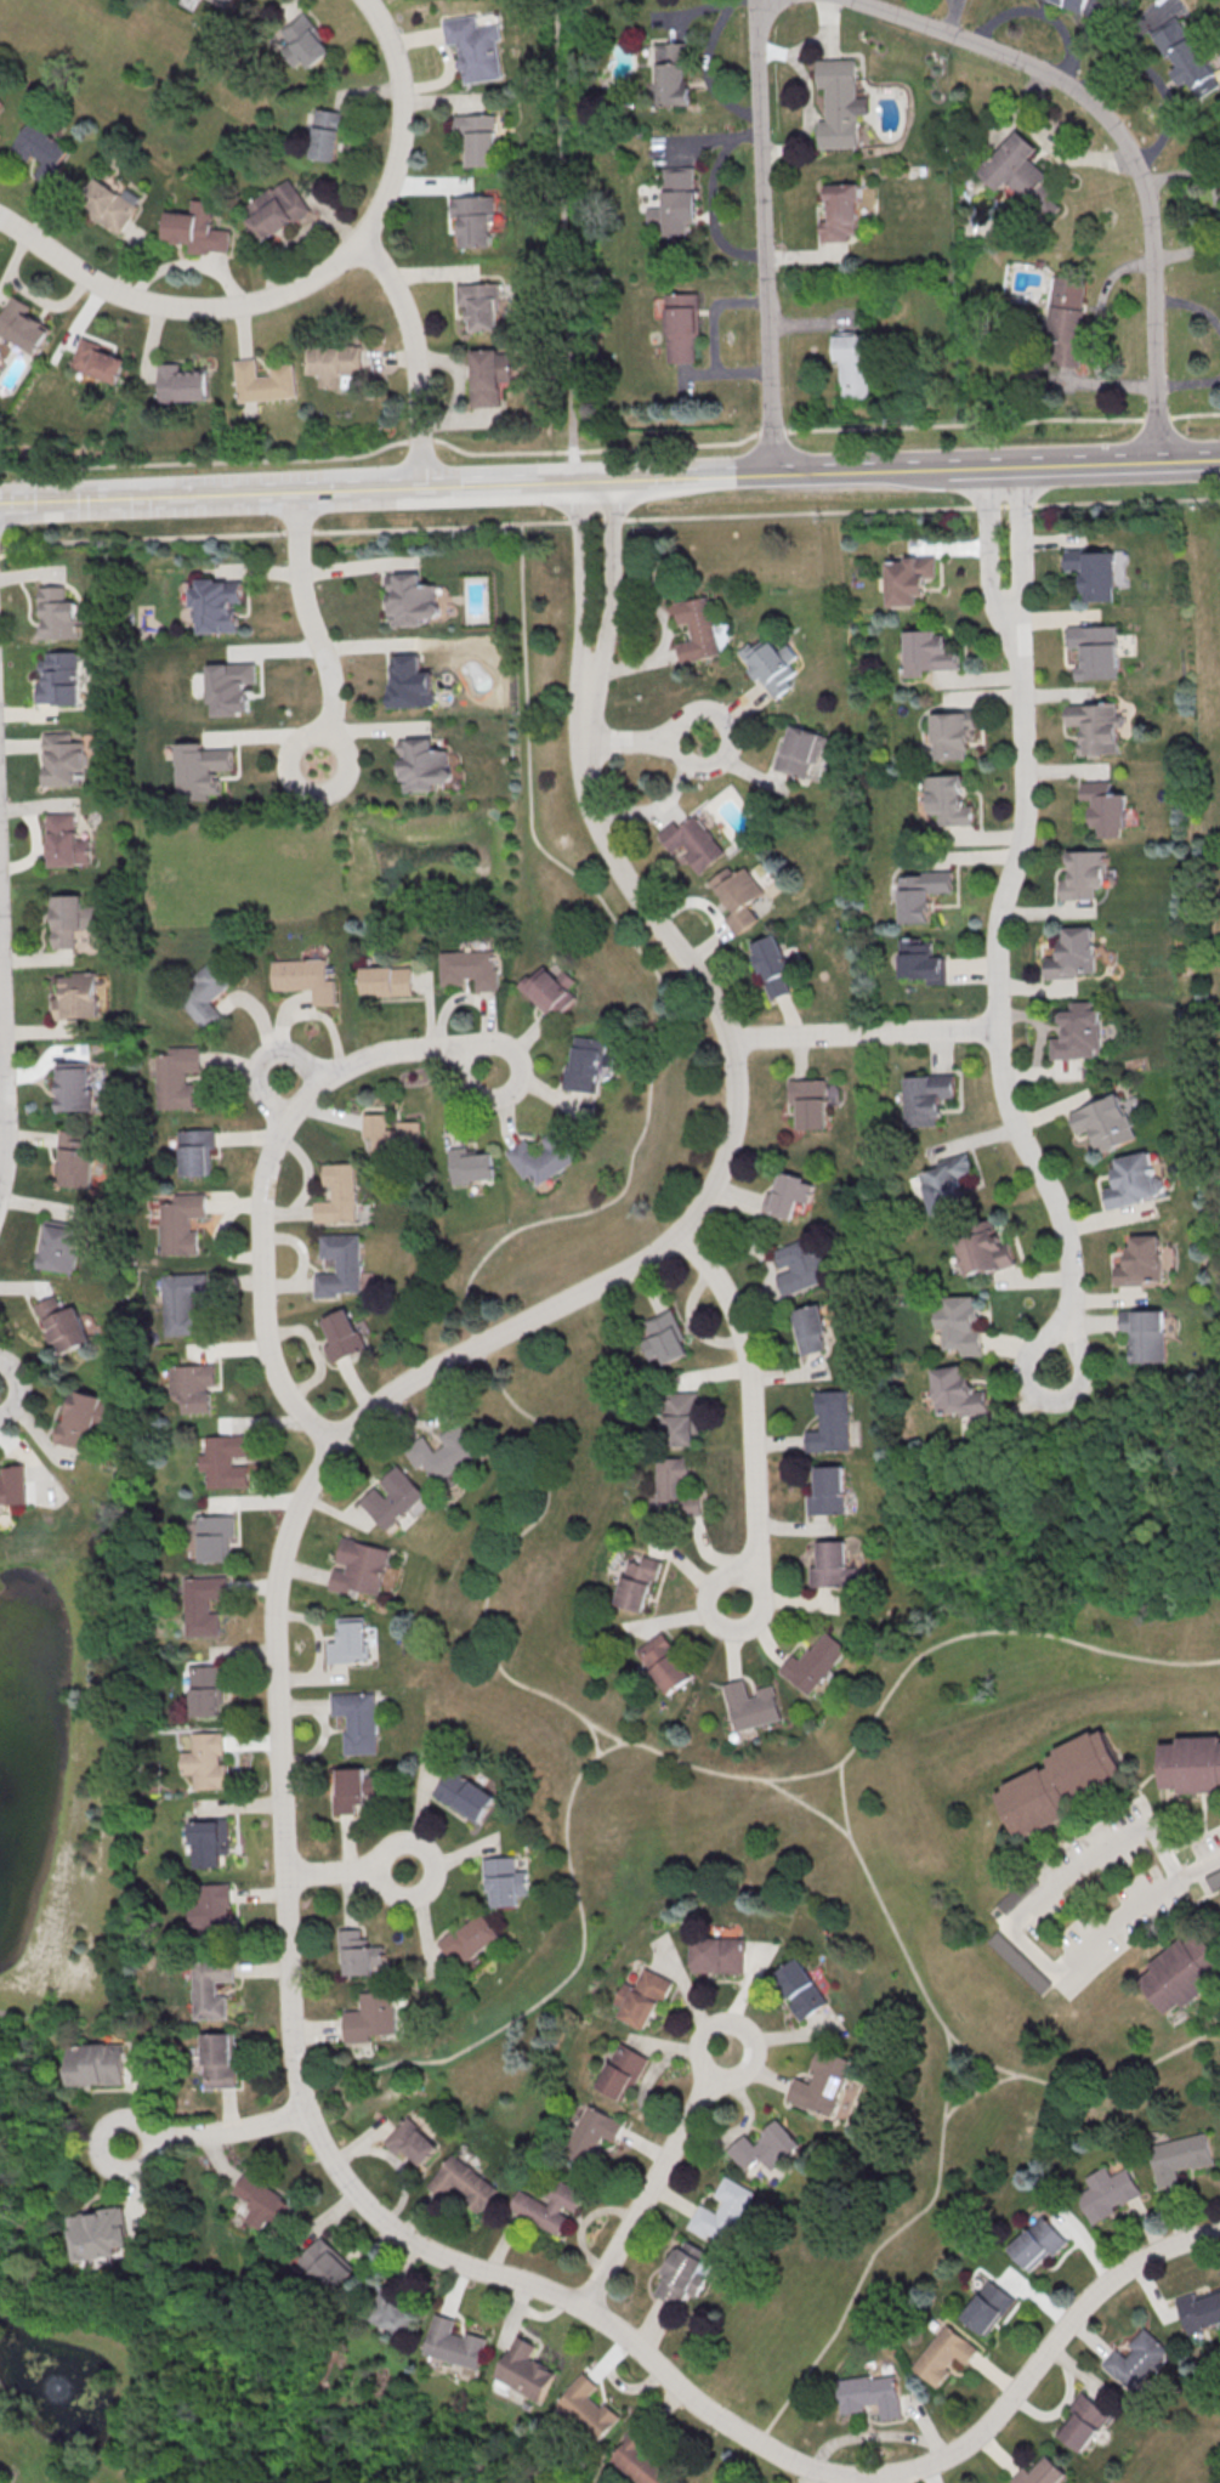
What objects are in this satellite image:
building: (220, 1)
building: (1069, 4)
building: (306, 41)
building: (477, 47)
building: (1184, 57)
building: (673, 73)
building: (839, 102)
road: (403, 119)
building: (0, 132)
building: (328, 134)
building: (478, 140)
road: (1123, 147)
building: (42, 152)
building: (1020, 172)
building: (680, 200)
building: (110, 203)
building: (277, 209)
building: (842, 212)
building: (475, 221)
building: (199, 227)
road: (765, 238)
road: (564, 240)
road: (178, 304)
road: (1190, 305)
building: (480, 306)
building: (1067, 321)
building: (22, 325)
building: (682, 327)
road: (1094, 330)
road: (410, 357)
building: (100, 361)
building: (337, 364)
building: (852, 365)
building: (487, 380)
building: (265, 381)
building: (185, 382)
road: (1188, 384)
road: (1193, 413)
road: (1154, 418)
road: (963, 424)
road: (771, 431)
road: (419, 440)
road: (594, 449)
road: (204, 460)
road: (609, 483)
road: (608, 520)
road: (1020, 552)
road: (989, 556)
building: (1094, 572)
building: (908, 578)
road: (581, 599)
building: (409, 600)
road: (609, 601)
building: (212, 607)
building: (56, 612)
road: (307, 614)
building: (698, 630)
building: (927, 652)
building: (1093, 652)
building: (774, 667)
building: (57, 682)
building: (227, 682)
building: (410, 684)
building: (1093, 730)
road: (324, 732)
road: (727, 735)
building: (952, 735)
road: (625, 741)
building: (799, 750)
building: (63, 760)
building: (198, 766)
building: (425, 766)
building: (947, 799)
building: (1107, 807)
road: (1017, 834)
building: (67, 839)
building: (693, 840)
building: (1085, 874)
building: (920, 894)
building: (739, 896)
building: (73, 926)
building: (1074, 953)
building: (920, 962)
building: (772, 964)
building: (469, 968)
building: (303, 977)
building: (386, 980)
building: (550, 990)
building: (206, 993)
building: (79, 996)
building: (1076, 1032)
road: (863, 1033)
road: (471, 1049)
building: (588, 1064)
road: (4, 1076)
building: (177, 1076)
road: (279, 1077)
building: (75, 1088)
building: (929, 1098)
building: (810, 1102)
building: (1106, 1122)
building: (393, 1134)
building: (197, 1150)
building: (547, 1152)
building: (75, 1160)
building: (471, 1164)
road: (1038, 1175)
building: (1136, 1179)
building: (946, 1183)
road: (261, 1185)
building: (337, 1194)
building: (789, 1194)
road: (603, 1203)
building: (182, 1221)
building: (59, 1245)
building: (984, 1252)
building: (1144, 1260)
building: (340, 1265)
building: (799, 1265)
building: (181, 1305)
building: (960, 1322)
building: (64, 1325)
road: (1065, 1326)
building: (811, 1328)
building: (1146, 1333)
building: (344, 1336)
building: (664, 1338)
building: (194, 1384)
road: (17, 1387)
building: (958, 1393)
road: (750, 1396)
building: (681, 1418)
building: (87, 1419)
building: (832, 1422)
building: (441, 1452)
building: (226, 1459)
building: (13, 1485)
park: (1067, 1485)
building: (676, 1487)
building: (828, 1491)
building: (395, 1496)
building: (216, 1537)
building: (832, 1564)
building: (361, 1569)
road: (747, 1575)
building: (639, 1582)
building: (204, 1603)
building: (350, 1640)
building: (664, 1662)
building: (815, 1662)
building: (208, 1689)
building: (751, 1705)
building: (357, 1720)
road: (591, 1736)
road: (670, 1757)
building: (208, 1762)
building: (1191, 1764)
building: (1063, 1780)
building: (348, 1791)
building: (465, 1793)
road: (807, 1805)
park: (72, 1827)
building: (208, 1842)
road: (283, 1850)
road: (1072, 1866)
road: (431, 1867)
road: (330, 1871)
building: (1213, 1878)
building: (504, 1880)
building: (1020, 1897)
building: (214, 1904)
road: (1134, 1914)
building: (472, 1937)
building: (358, 1951)
building: (717, 1954)
building: (1018, 1961)
building: (1184, 1974)
building: (800, 1988)
building: (209, 1989)
building: (645, 1997)
road: (16, 2014)
building: (369, 2017)
road: (61, 2018)
road: (739, 2026)
road: (953, 2034)
building: (219, 2059)
building: (98, 2064)
building: (623, 2071)
road: (135, 2079)
building: (822, 2084)
road: (976, 2090)
road: (118, 2111)
road: (232, 2128)
building: (592, 2131)
building: (412, 2141)
building: (765, 2148)
building: (1180, 2156)
building: (458, 2182)
road: (647, 2189)
building: (1108, 2193)
building: (263, 2201)
building: (546, 2204)
building: (721, 2210)
building: (103, 2235)
road: (883, 2243)
building: (1038, 2244)
building: (327, 2263)
building: (685, 2273)
building: (988, 2307)
building: (1201, 2309)
building: (393, 2314)
building: (453, 2343)
building: (944, 2353)
building: (1136, 2359)
building: (521, 2370)
building: (872, 2394)
building: (588, 2405)
building: (1084, 2422)
road: (873, 2436)
park: (1182, 2443)
building: (640, 2459)
building: (1042, 2473)
road: (884, 2478)

